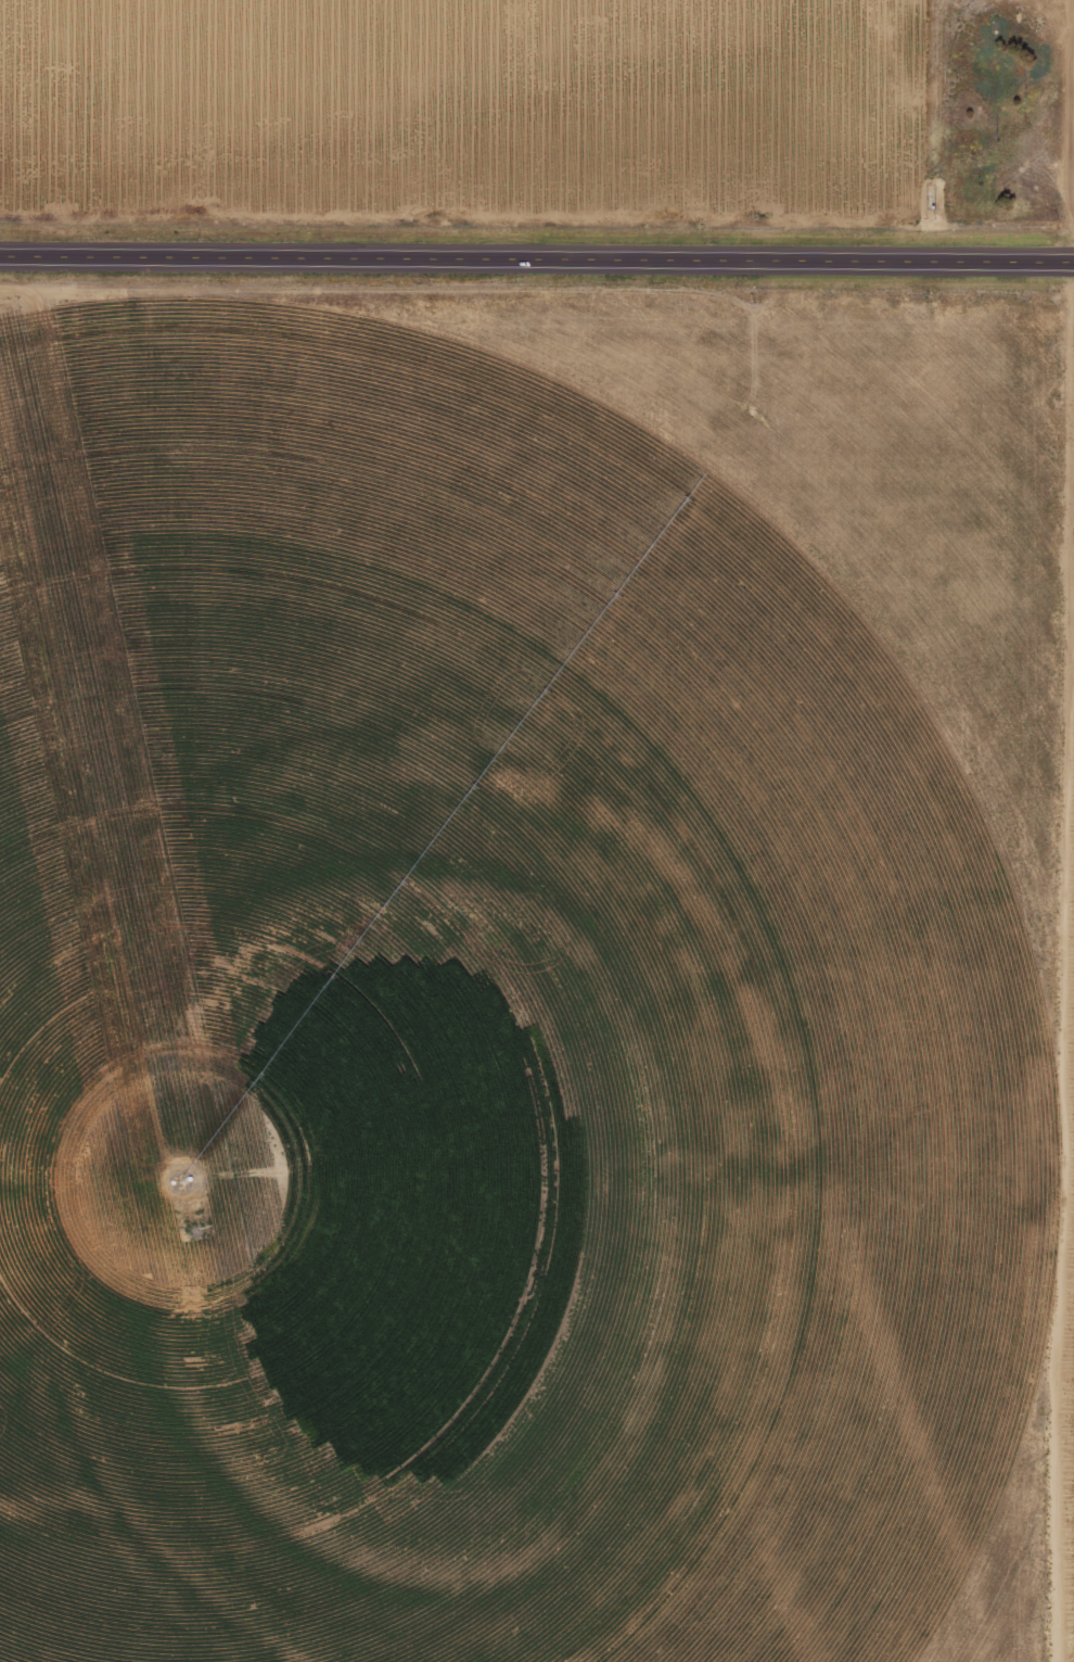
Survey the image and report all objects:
road: (536, 277)
road: (1043, 830)

